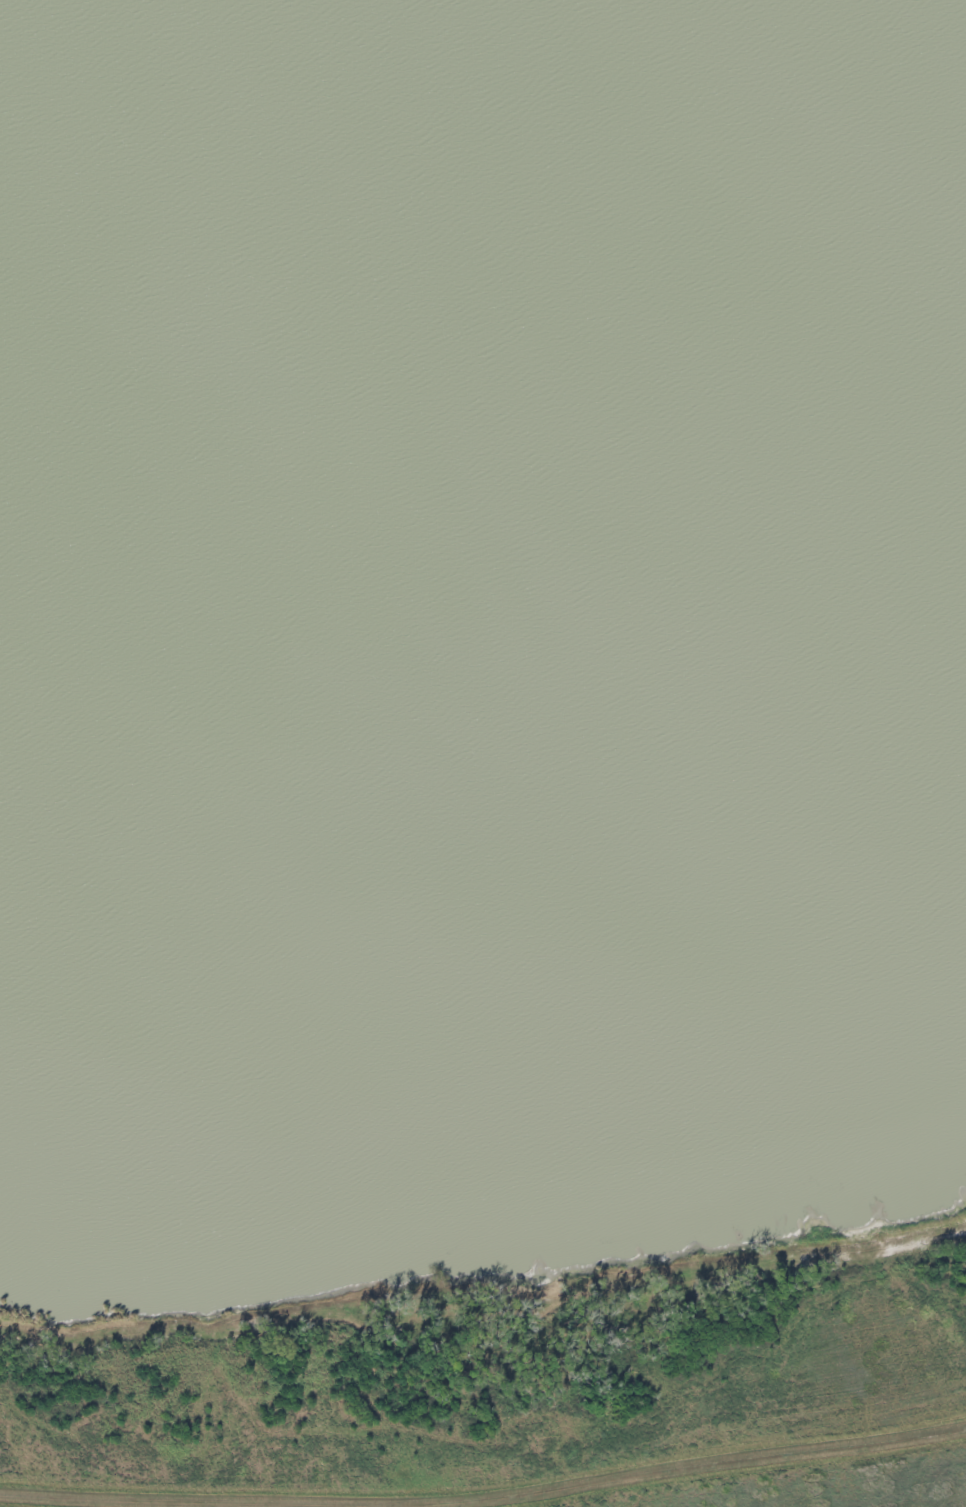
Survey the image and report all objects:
road: (721, 1460)
road: (207, 1493)

